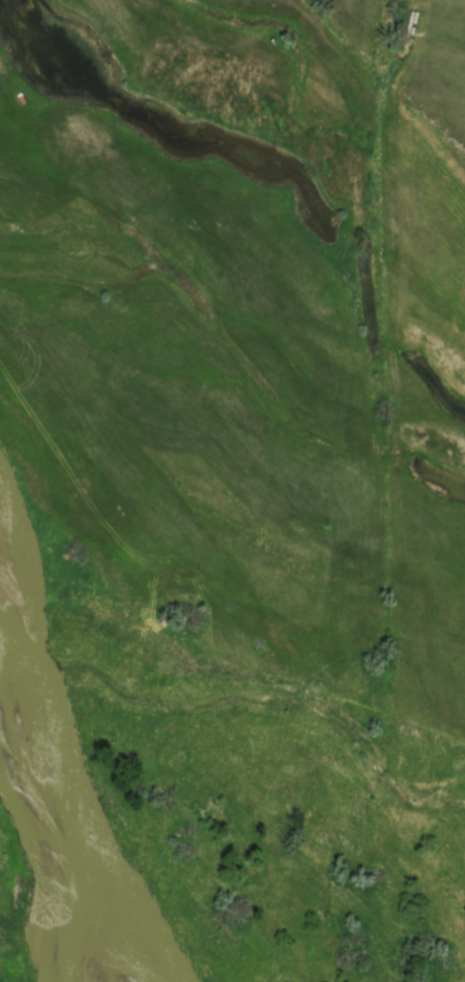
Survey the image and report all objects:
river: (55, 845)

